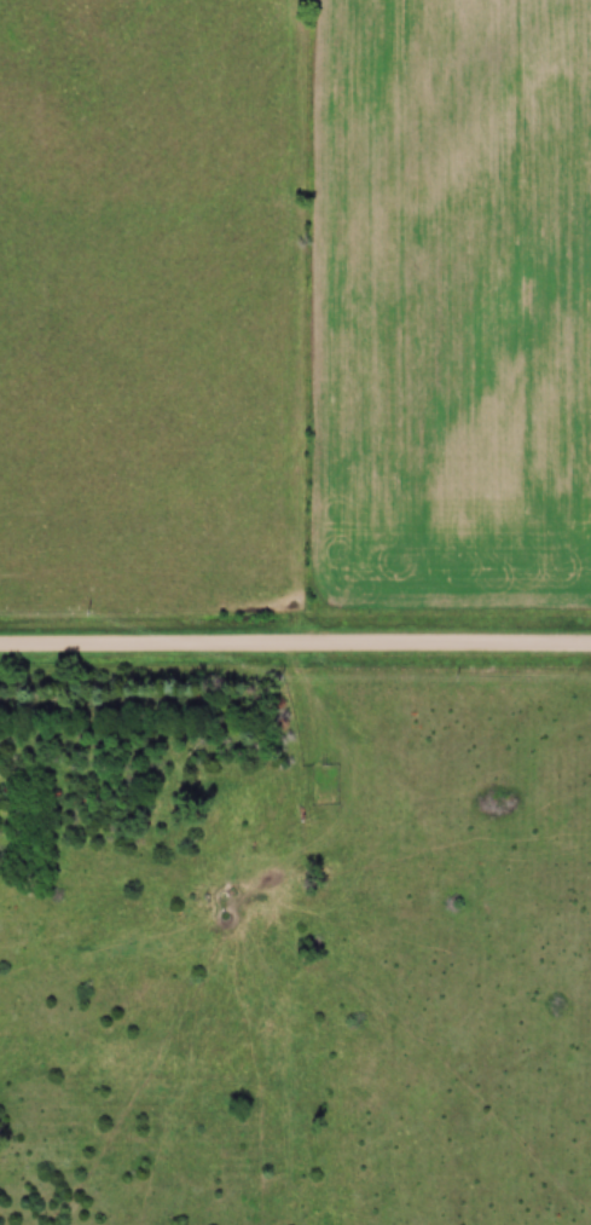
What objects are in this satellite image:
road: (295, 652)

